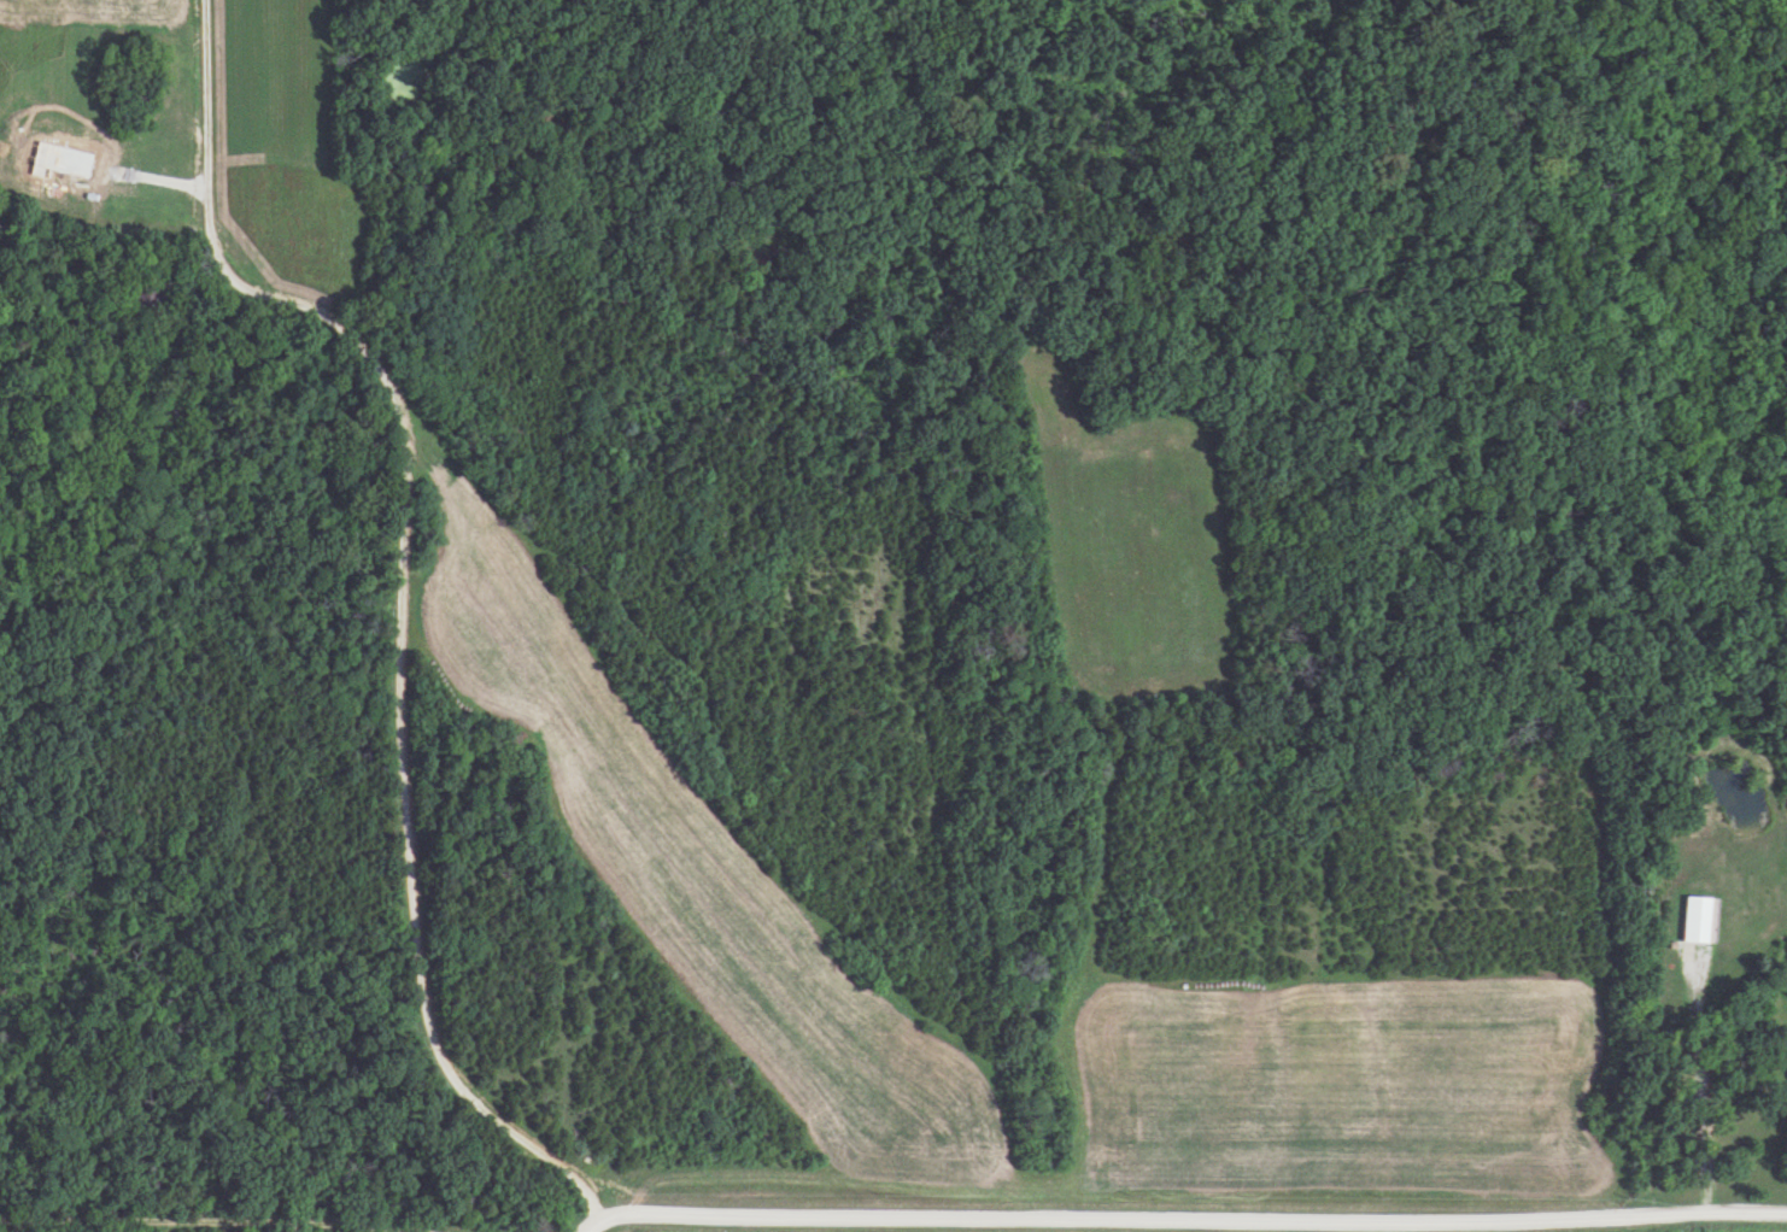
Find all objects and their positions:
building: (1692, 921)
road: (1189, 1225)

